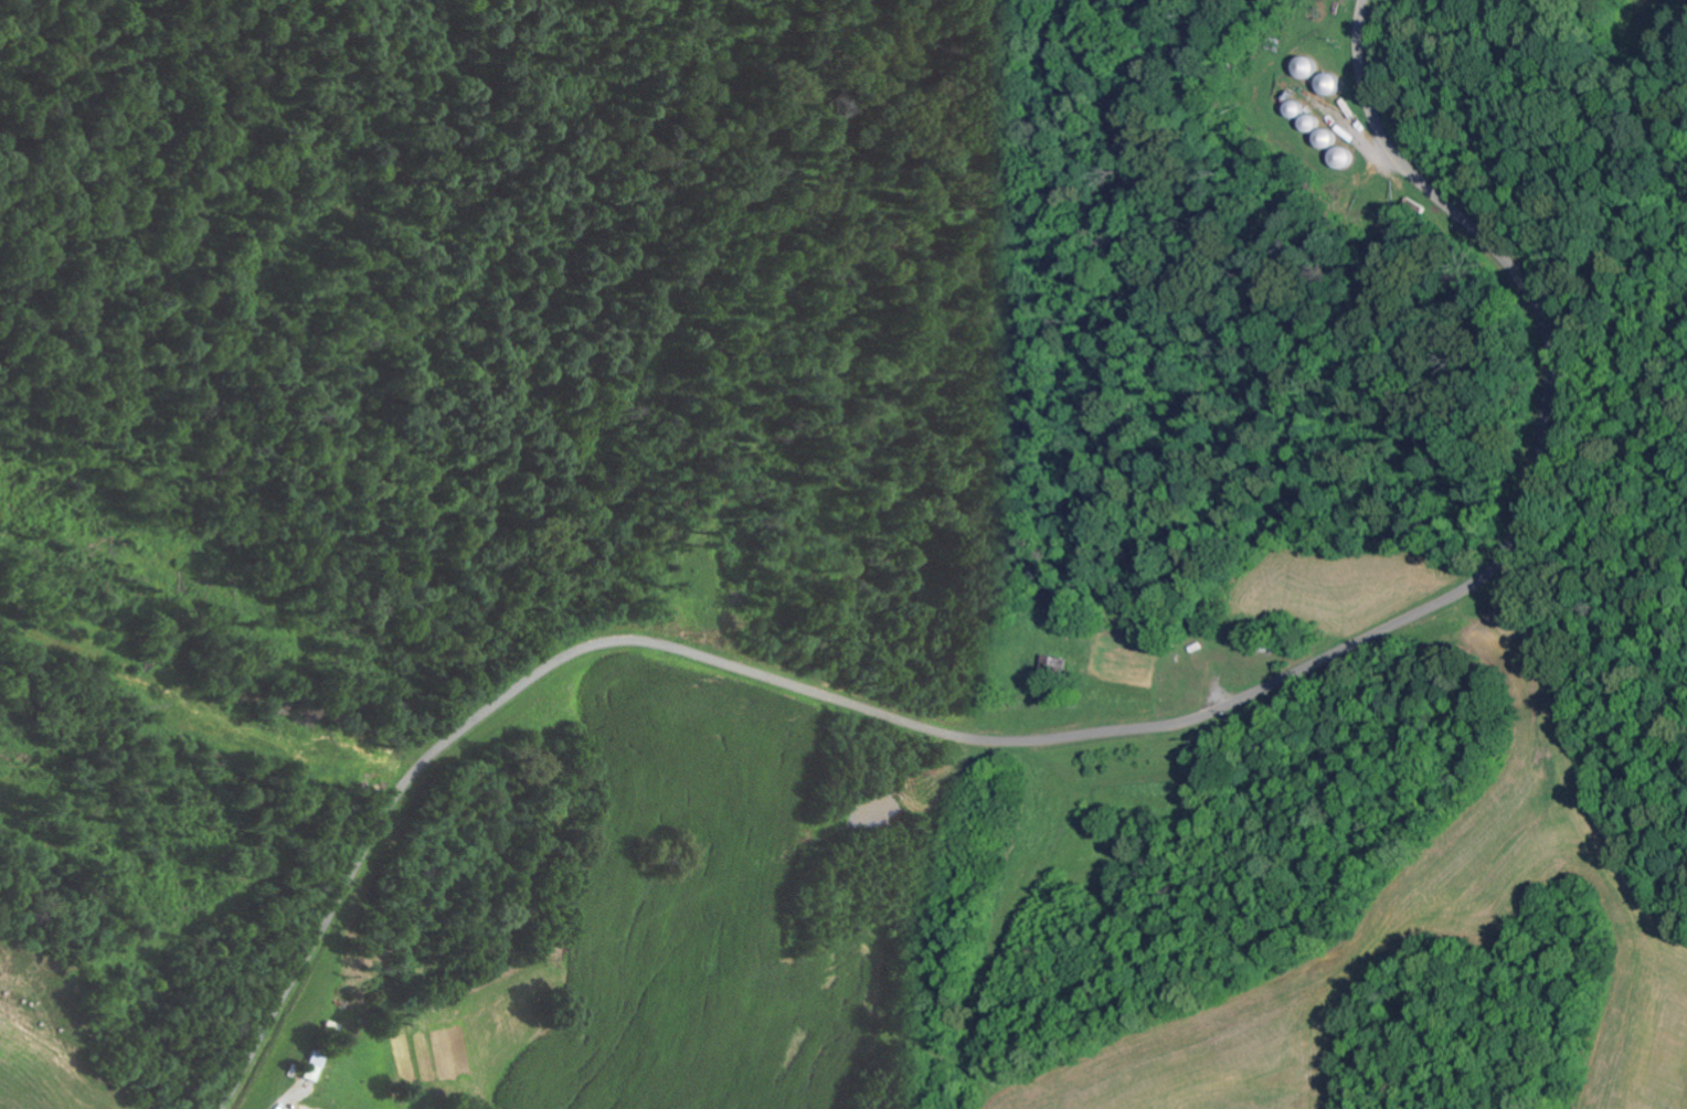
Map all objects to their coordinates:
road: (1080, 736)
building: (311, 1067)

